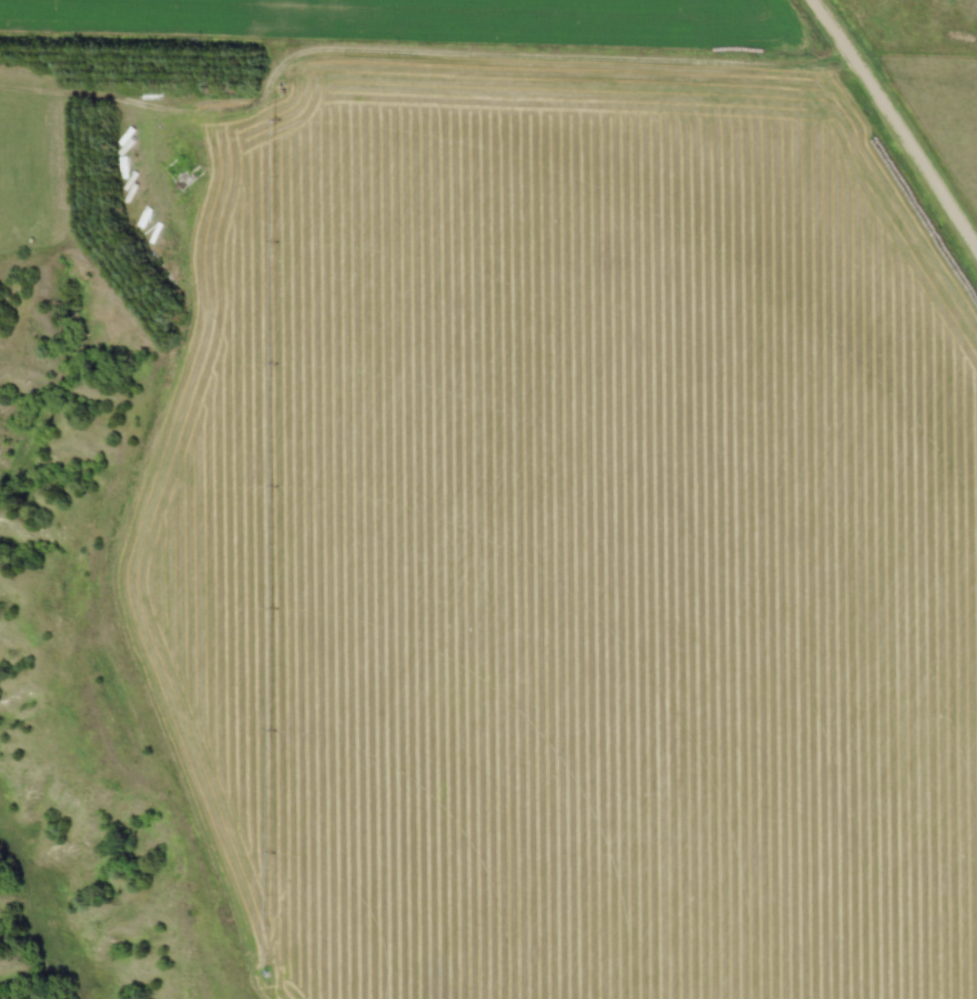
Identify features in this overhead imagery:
road: (895, 121)

